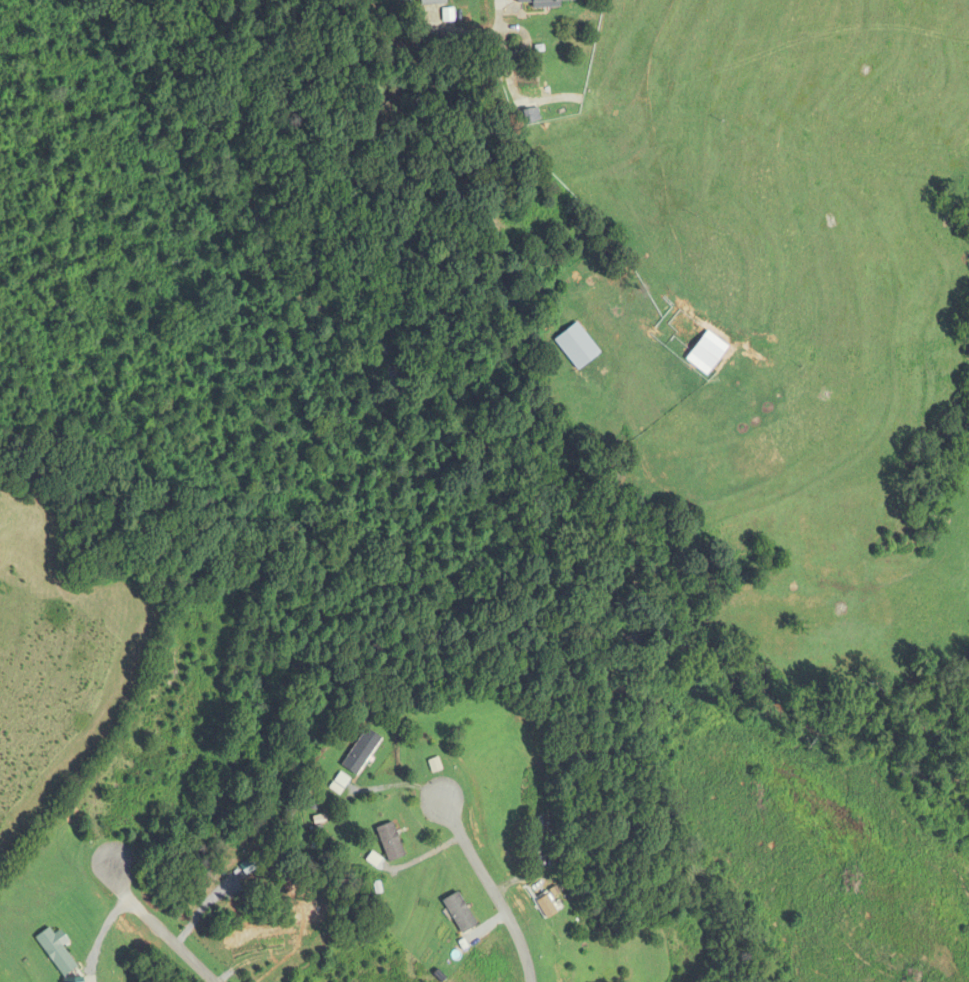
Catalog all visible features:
building: (432, 2)
building: (541, 2)
building: (527, 116)
building: (577, 347)
building: (696, 352)
building: (361, 751)
building: (136, 787)
building: (390, 842)
road: (490, 886)
building: (459, 912)
road: (159, 928)
building: (55, 952)
building: (294, 979)

